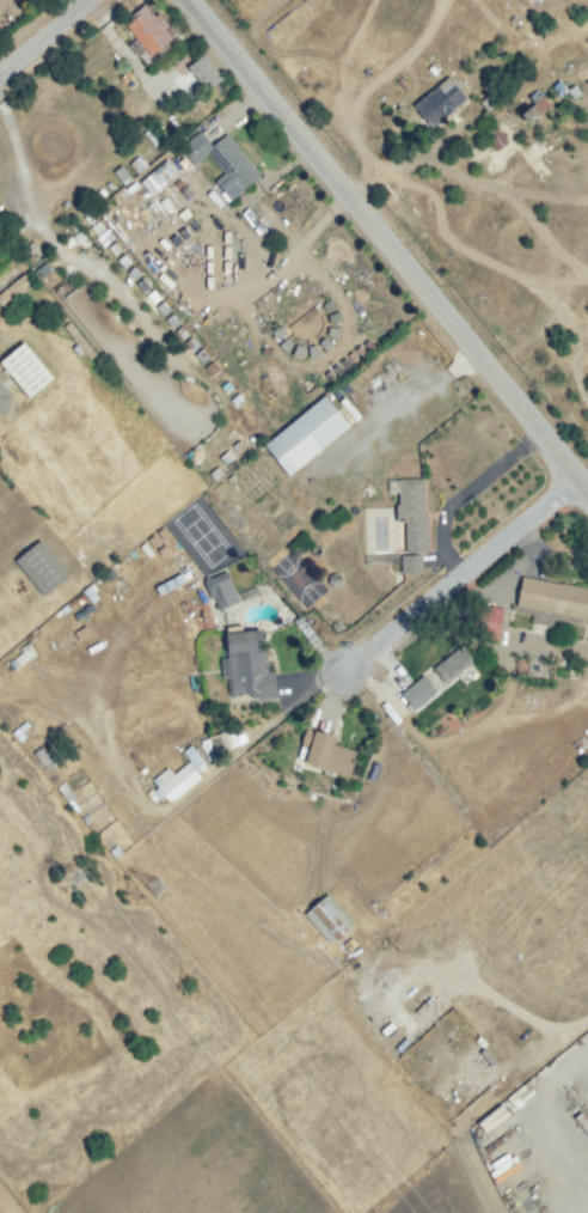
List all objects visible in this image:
building: (146, 31)
road: (44, 36)
building: (203, 72)
building: (125, 78)
building: (463, 78)
road: (374, 81)
building: (564, 86)
building: (439, 100)
building: (486, 102)
building: (534, 106)
building: (586, 116)
building: (495, 139)
building: (218, 160)
building: (136, 163)
building: (122, 172)
building: (158, 177)
road: (477, 182)
building: (177, 183)
building: (152, 209)
building: (114, 211)
building: (183, 214)
building: (179, 236)
road: (387, 244)
building: (183, 256)
building: (13, 289)
building: (80, 340)
building: (24, 368)
building: (305, 434)
road: (466, 492)
building: (410, 517)
building: (410, 562)
building: (39, 567)
road: (463, 573)
building: (220, 590)
building: (551, 601)
building: (82, 611)
building: (485, 621)
building: (23, 654)
building: (246, 664)
building: (451, 664)
building: (417, 693)
building: (18, 737)
building: (215, 743)
building: (324, 752)
building: (191, 756)
building: (43, 757)
building: (176, 781)
building: (65, 792)
power tower: (71, 879)
power tower: (154, 890)
building: (327, 919)
building: (519, 1091)
building: (492, 1118)
building: (582, 1121)
road: (547, 1124)
crop: (196, 1165)
crop: (431, 1194)

